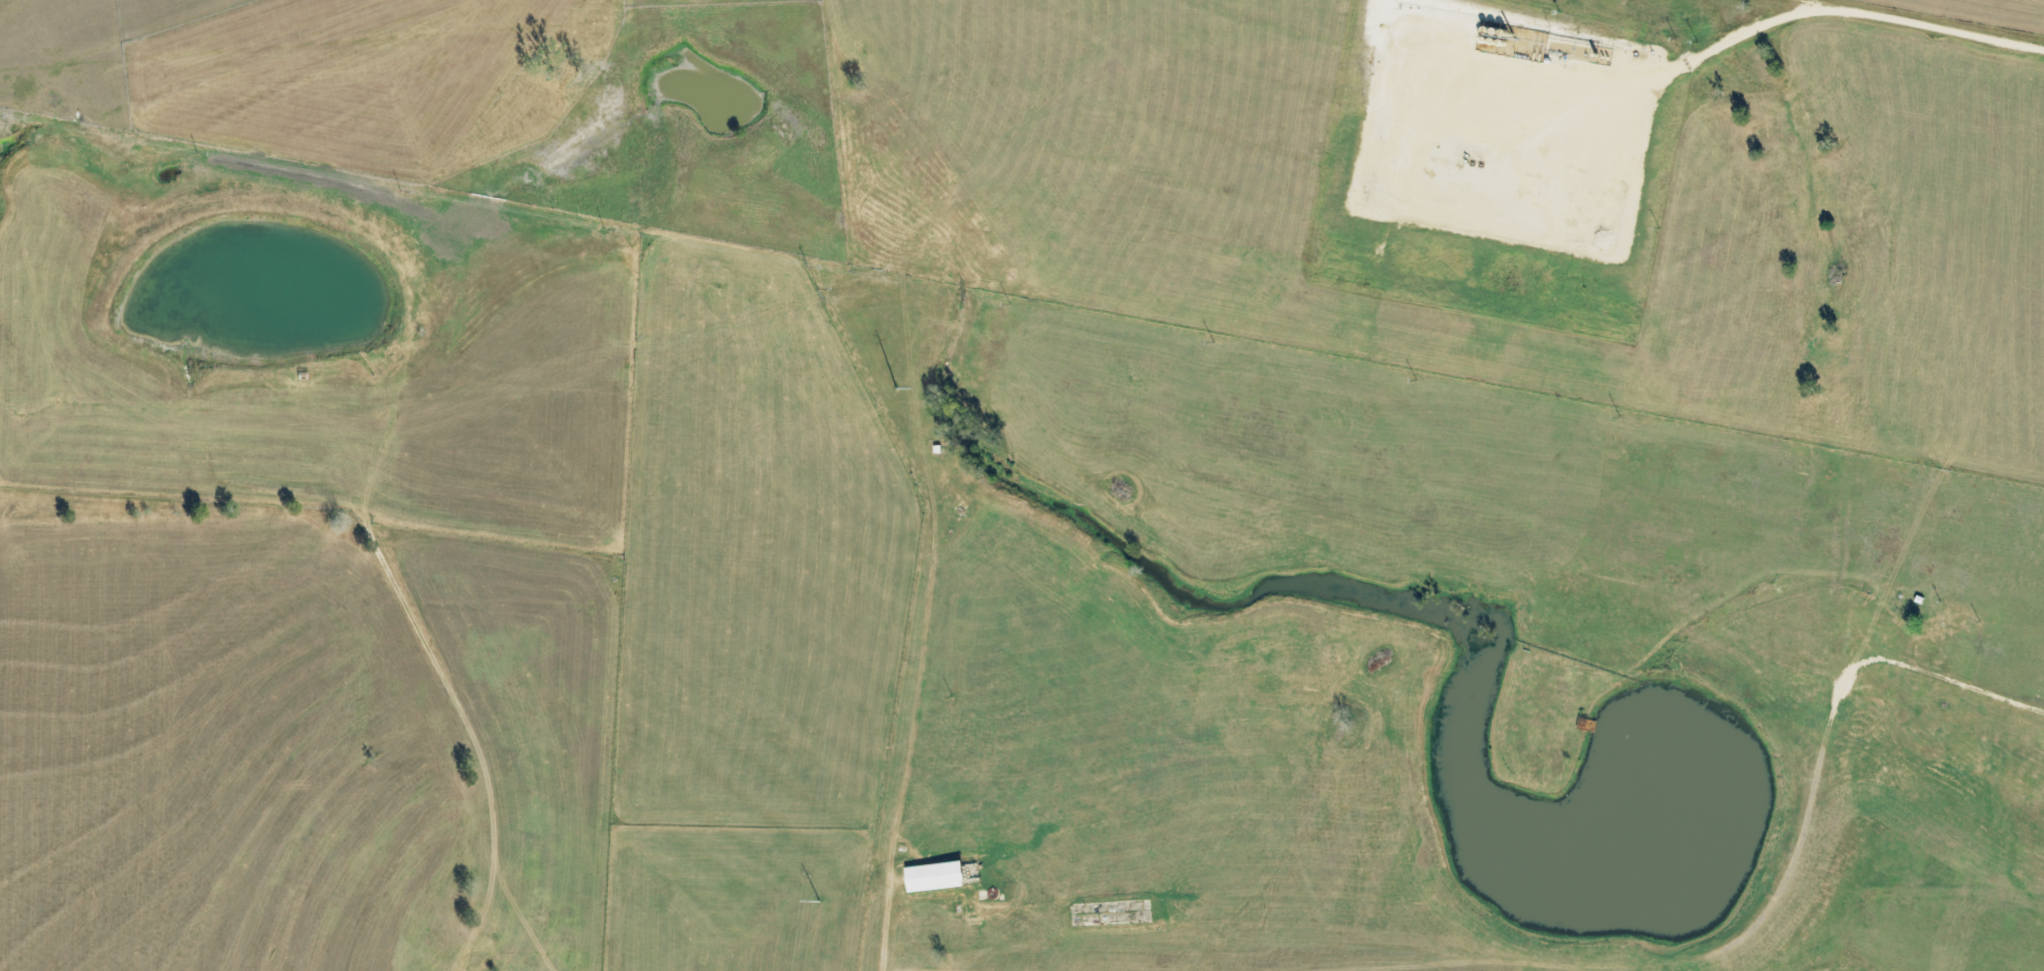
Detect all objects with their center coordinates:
road: (1829, 8)
power tower: (895, 389)
building: (935, 876)
power tower: (818, 903)

